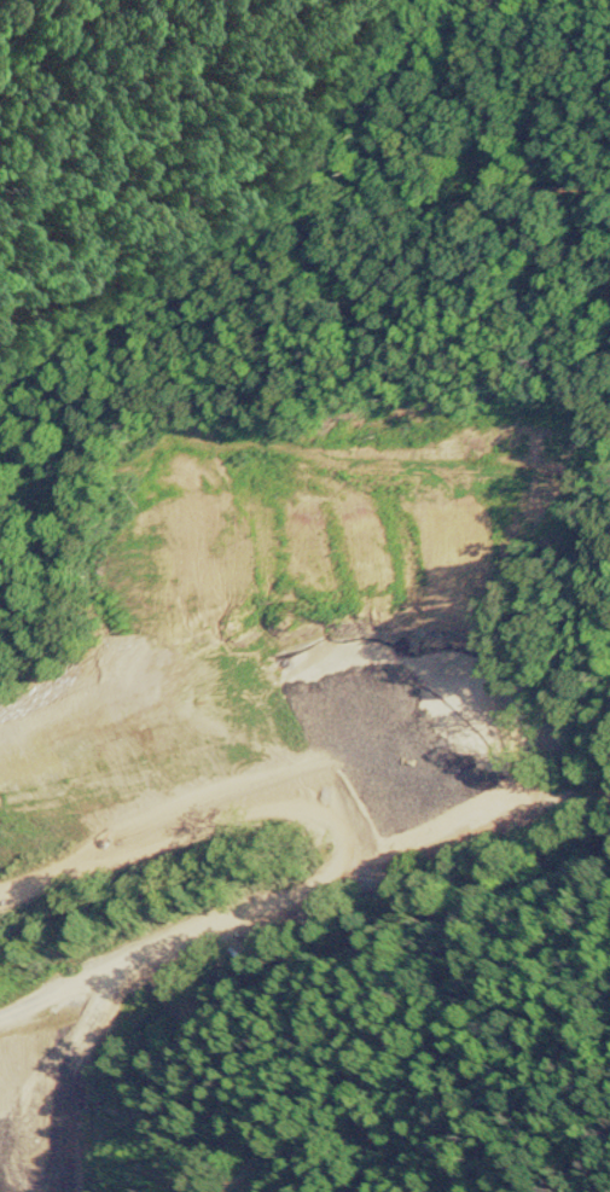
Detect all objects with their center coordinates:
road: (287, 174)

